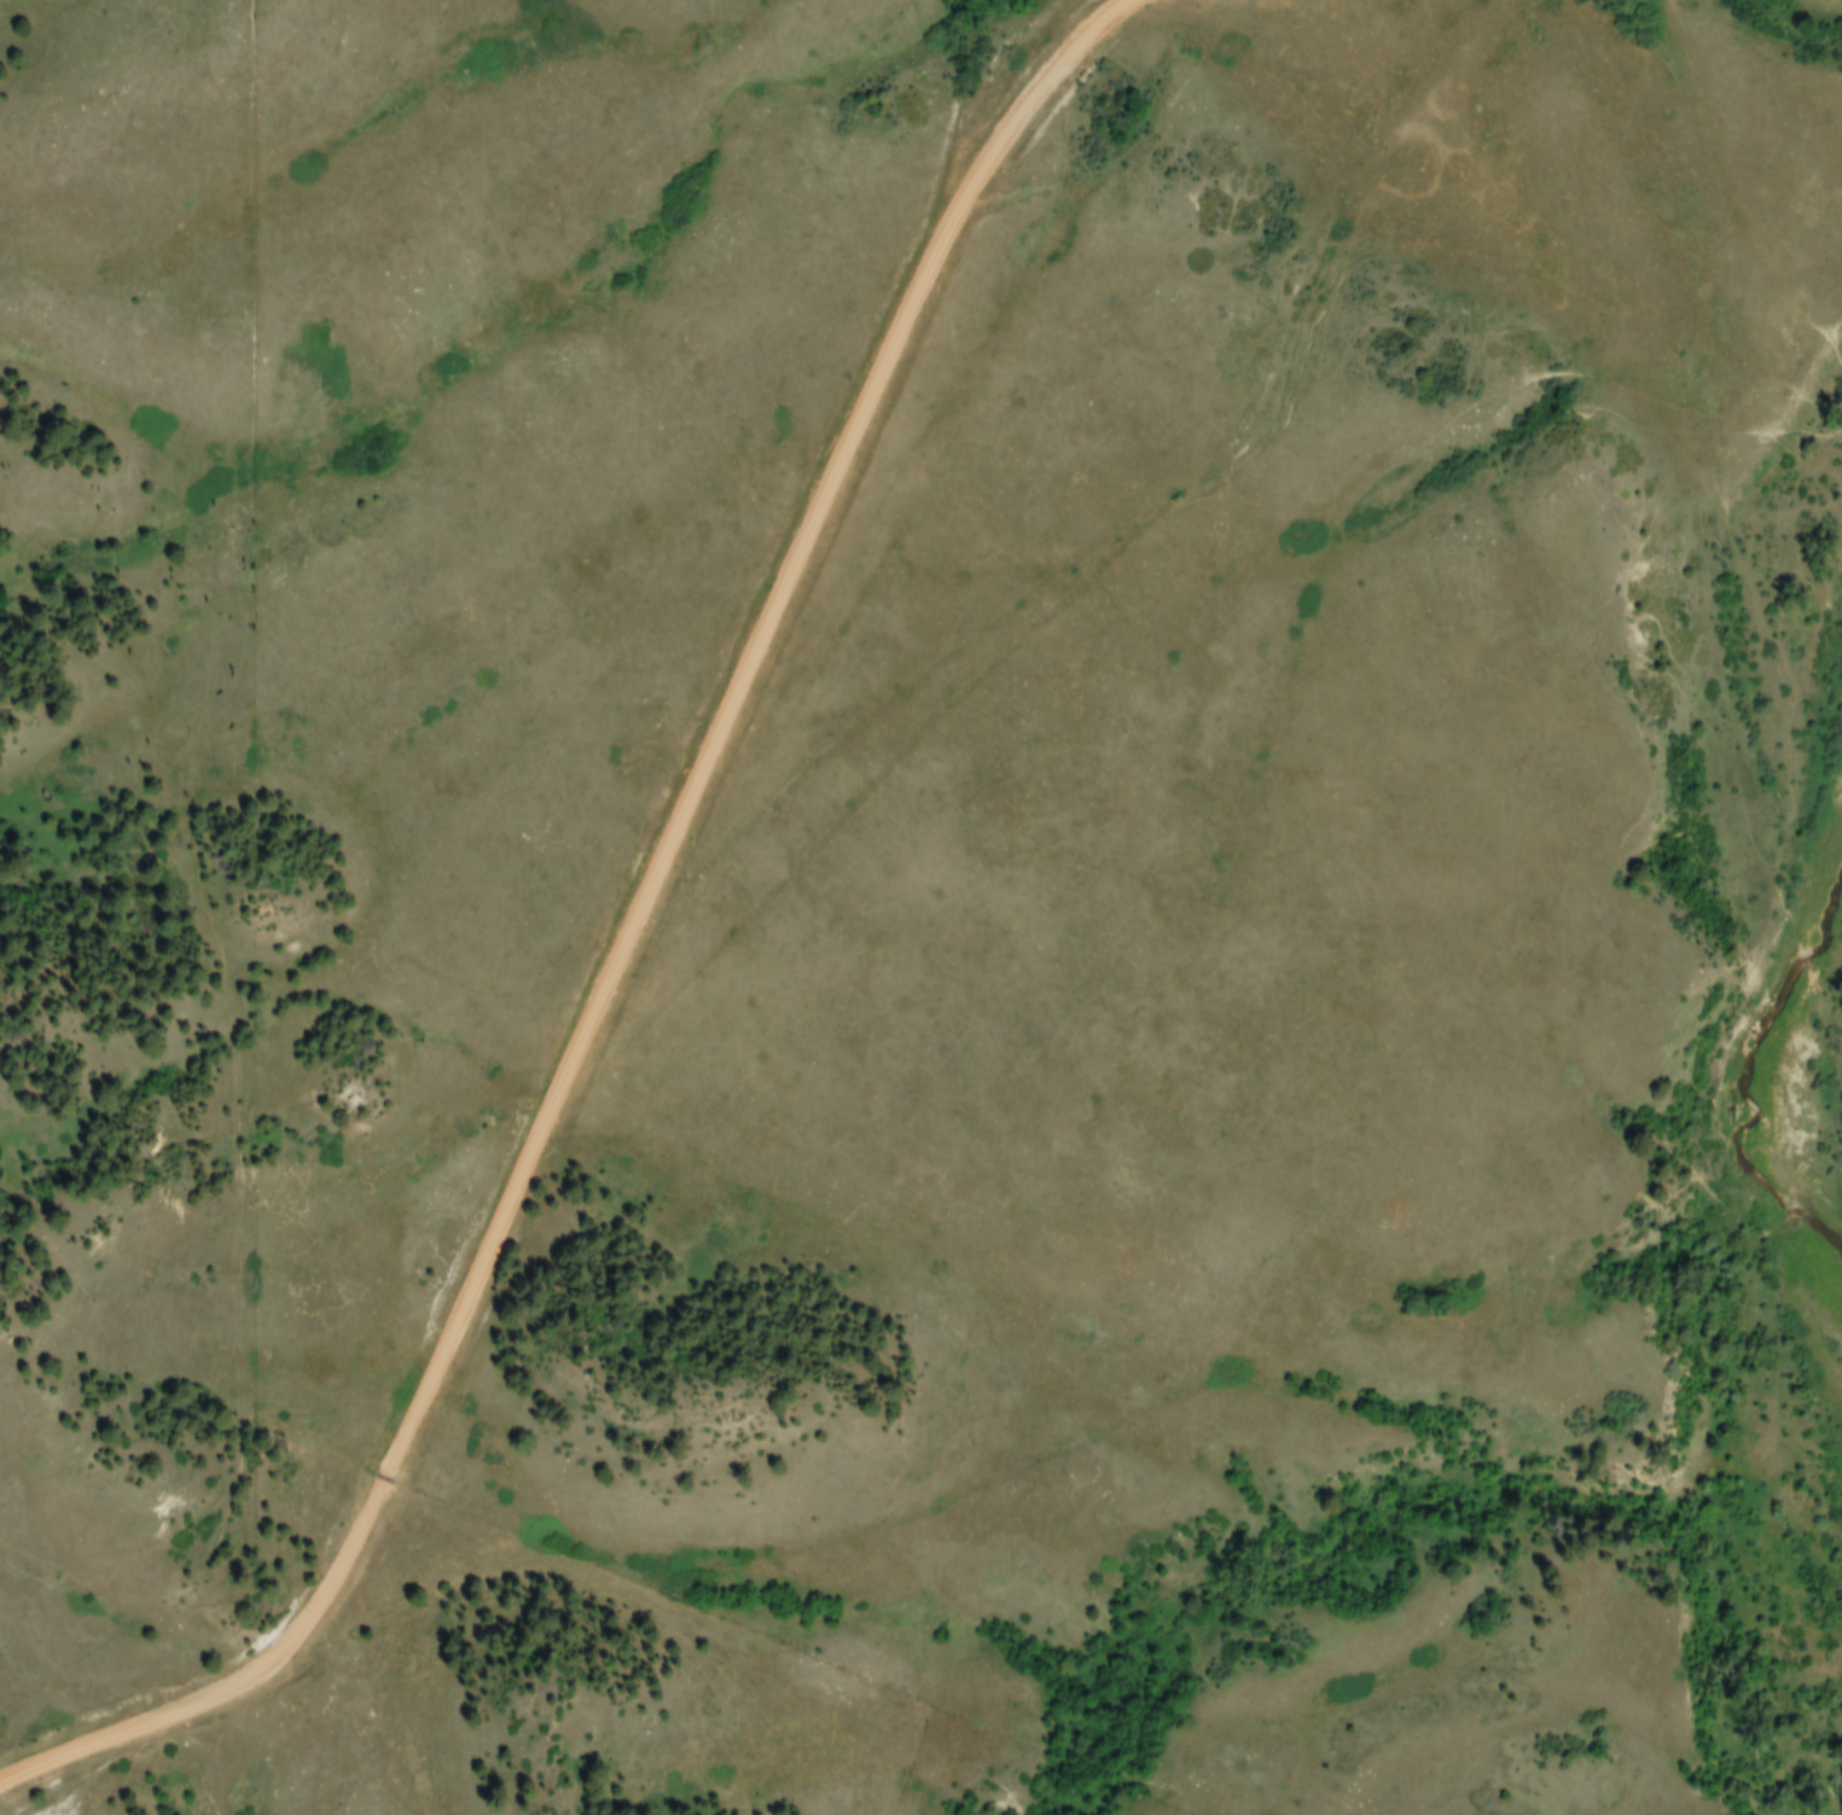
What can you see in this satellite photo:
road: (617, 953)
river: (1737, 1066)

